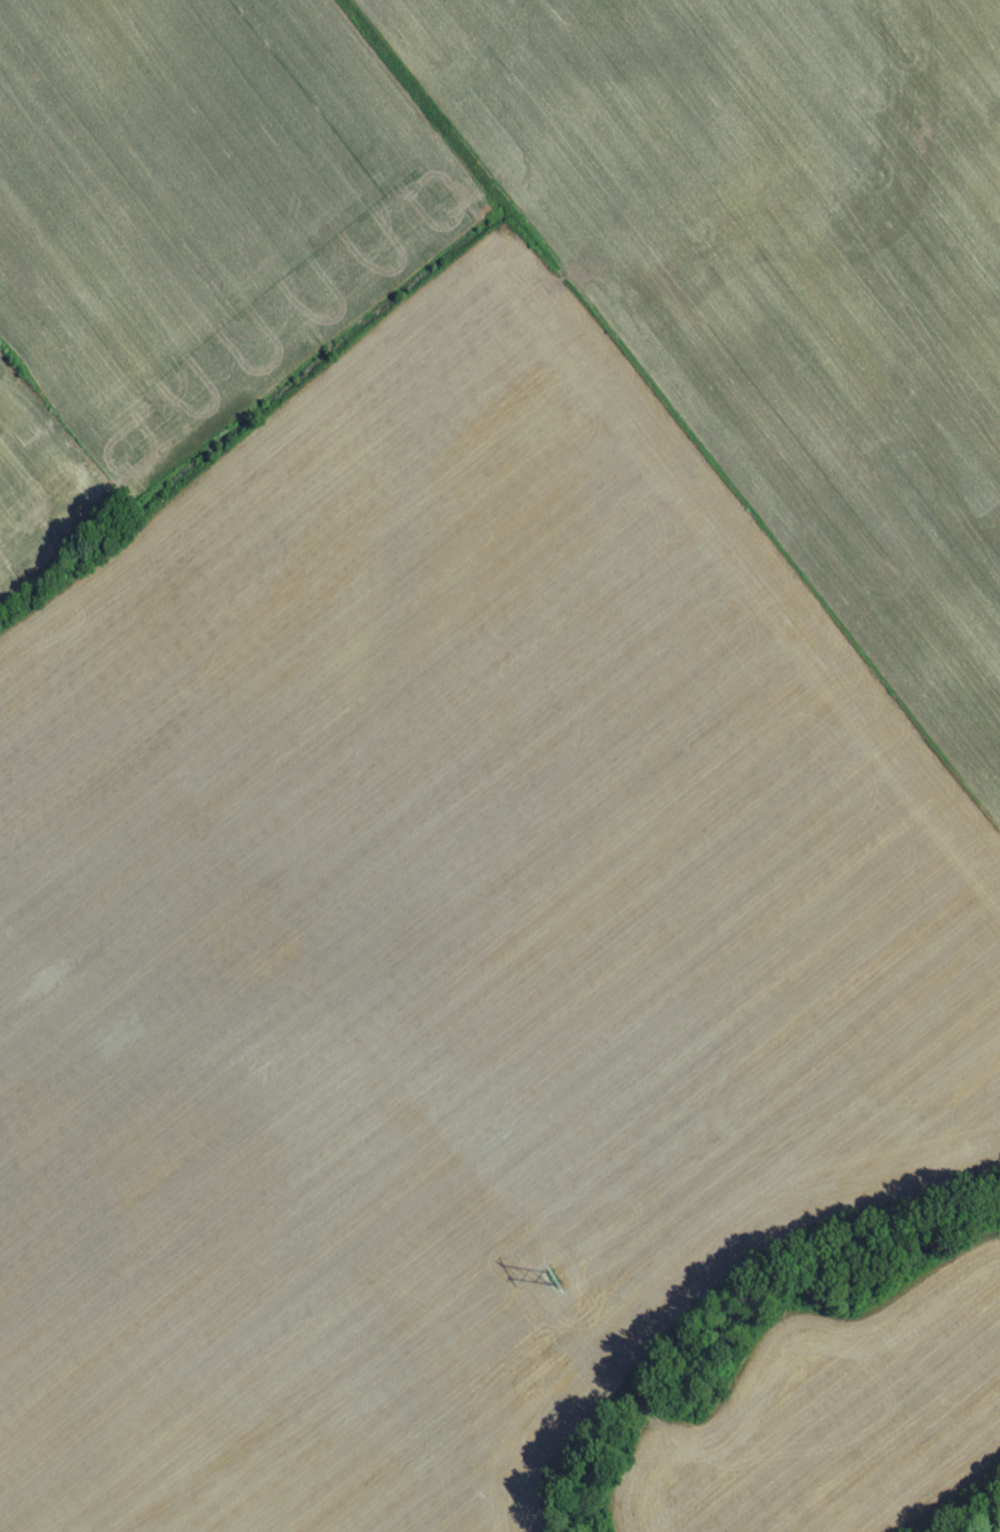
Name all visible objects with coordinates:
power tower: (553, 1286)

